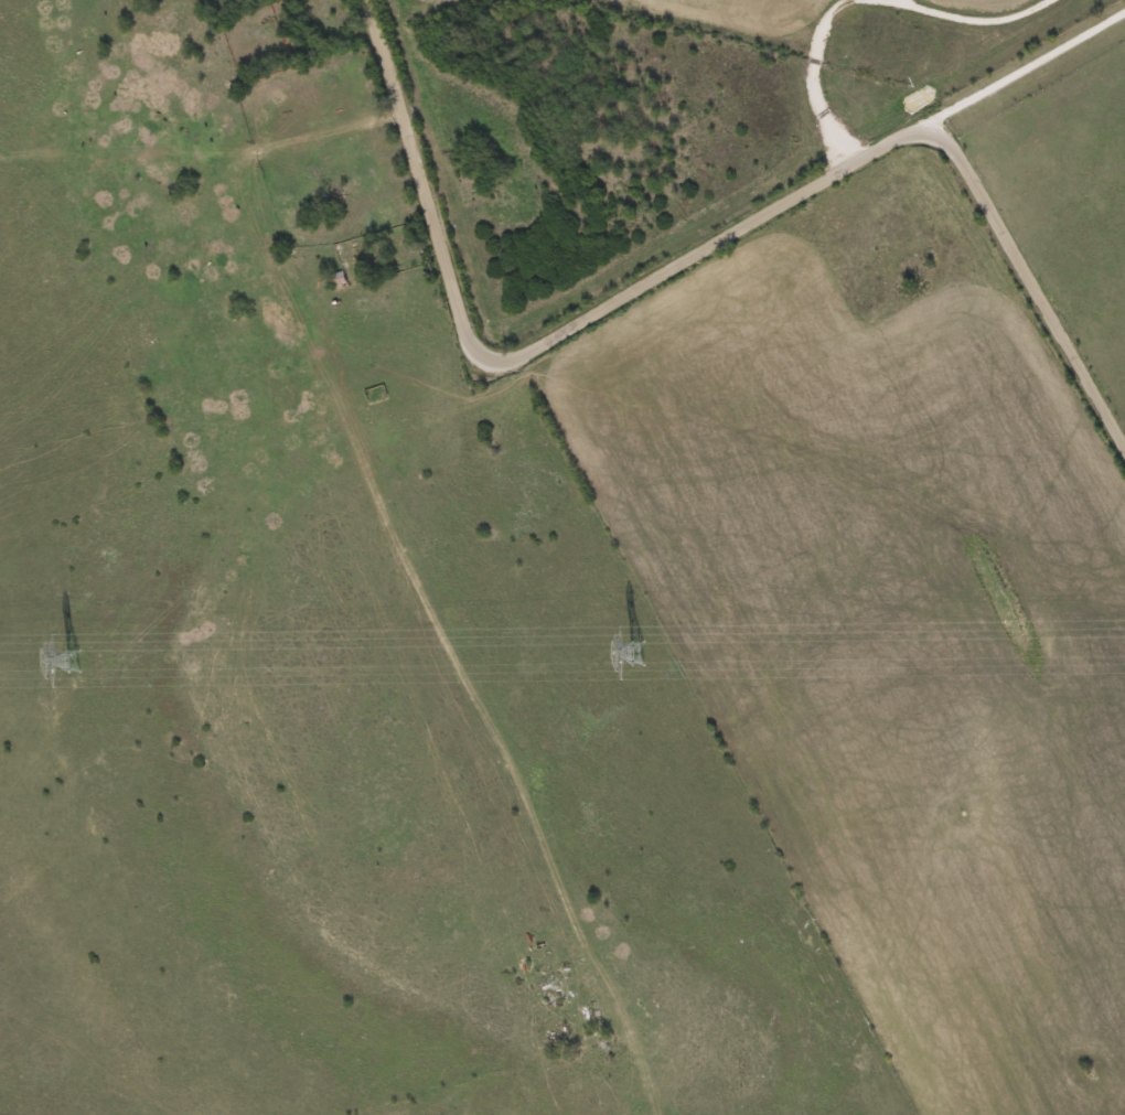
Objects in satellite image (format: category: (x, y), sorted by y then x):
road: (971, 17)
road: (814, 68)
road: (1008, 71)
road: (698, 256)
building: (337, 279)
building: (377, 394)
power tower: (640, 651)
power tower: (74, 662)

